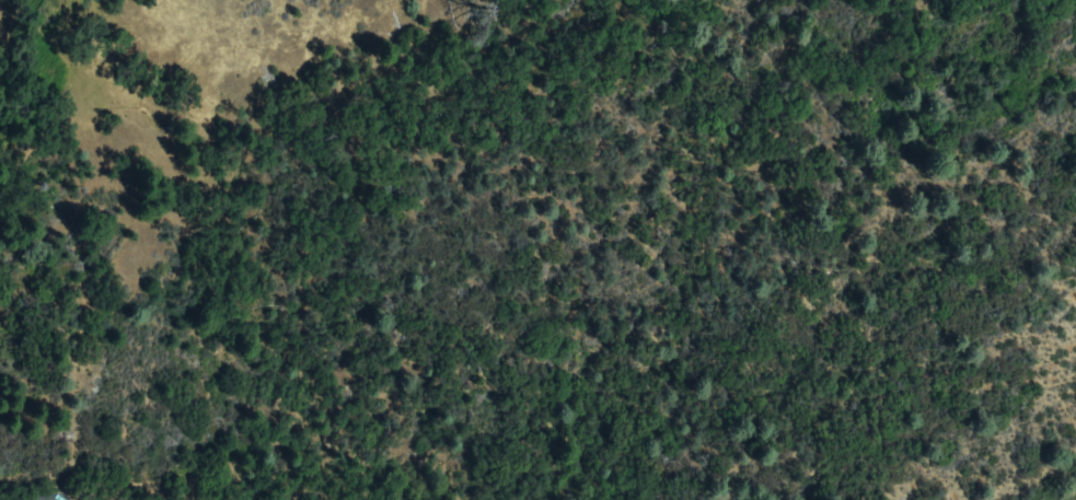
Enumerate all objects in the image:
road: (319, 359)

